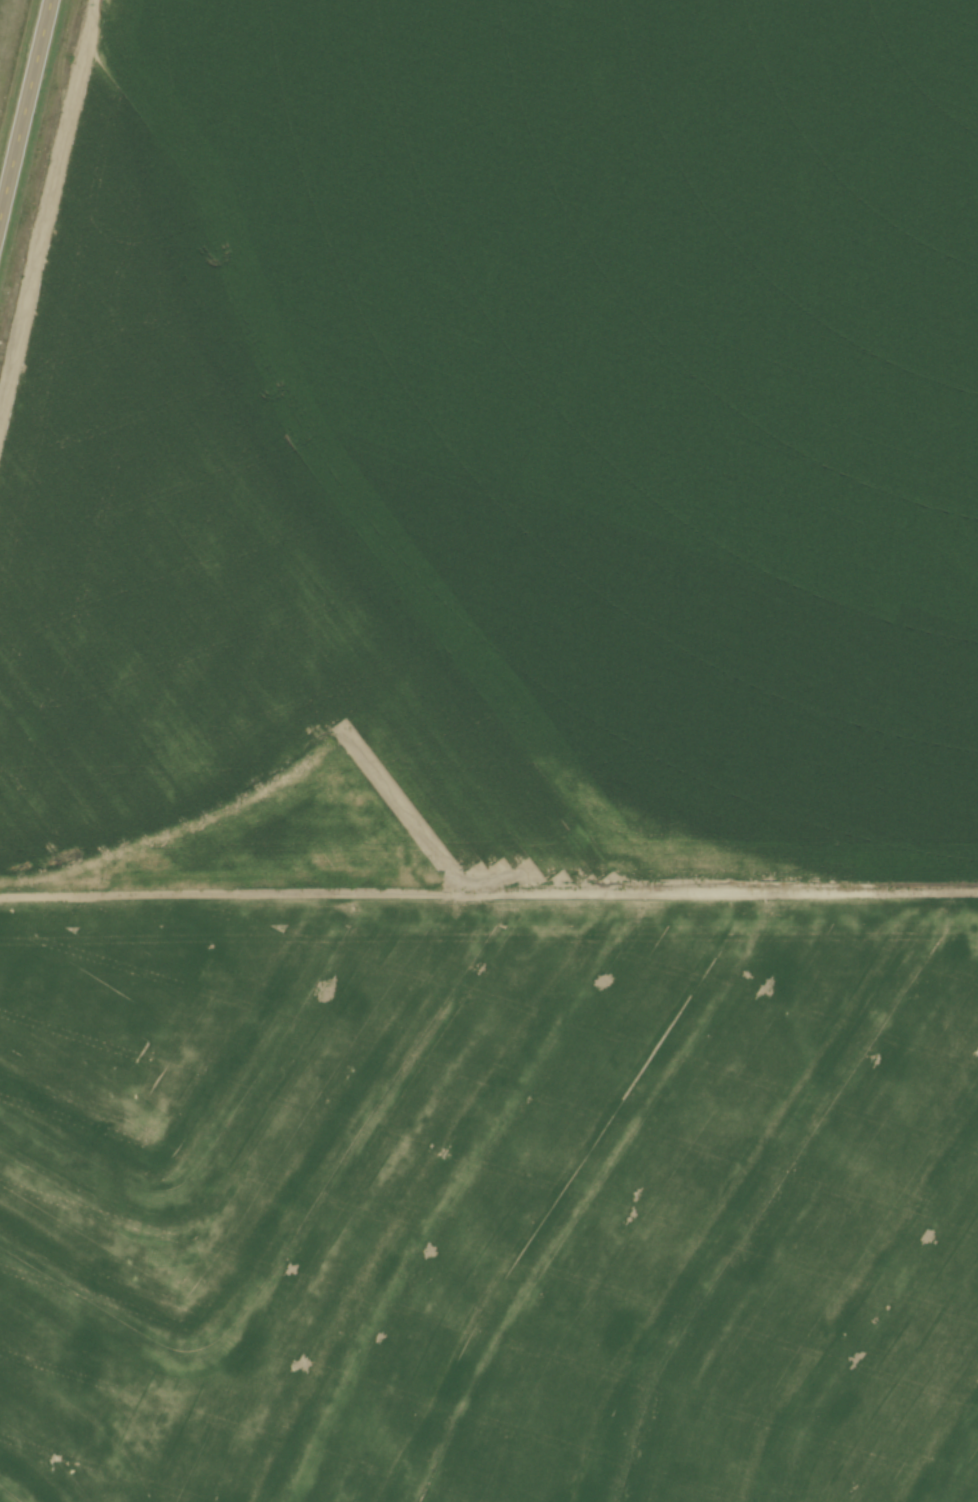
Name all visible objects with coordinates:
road: (23, 101)

